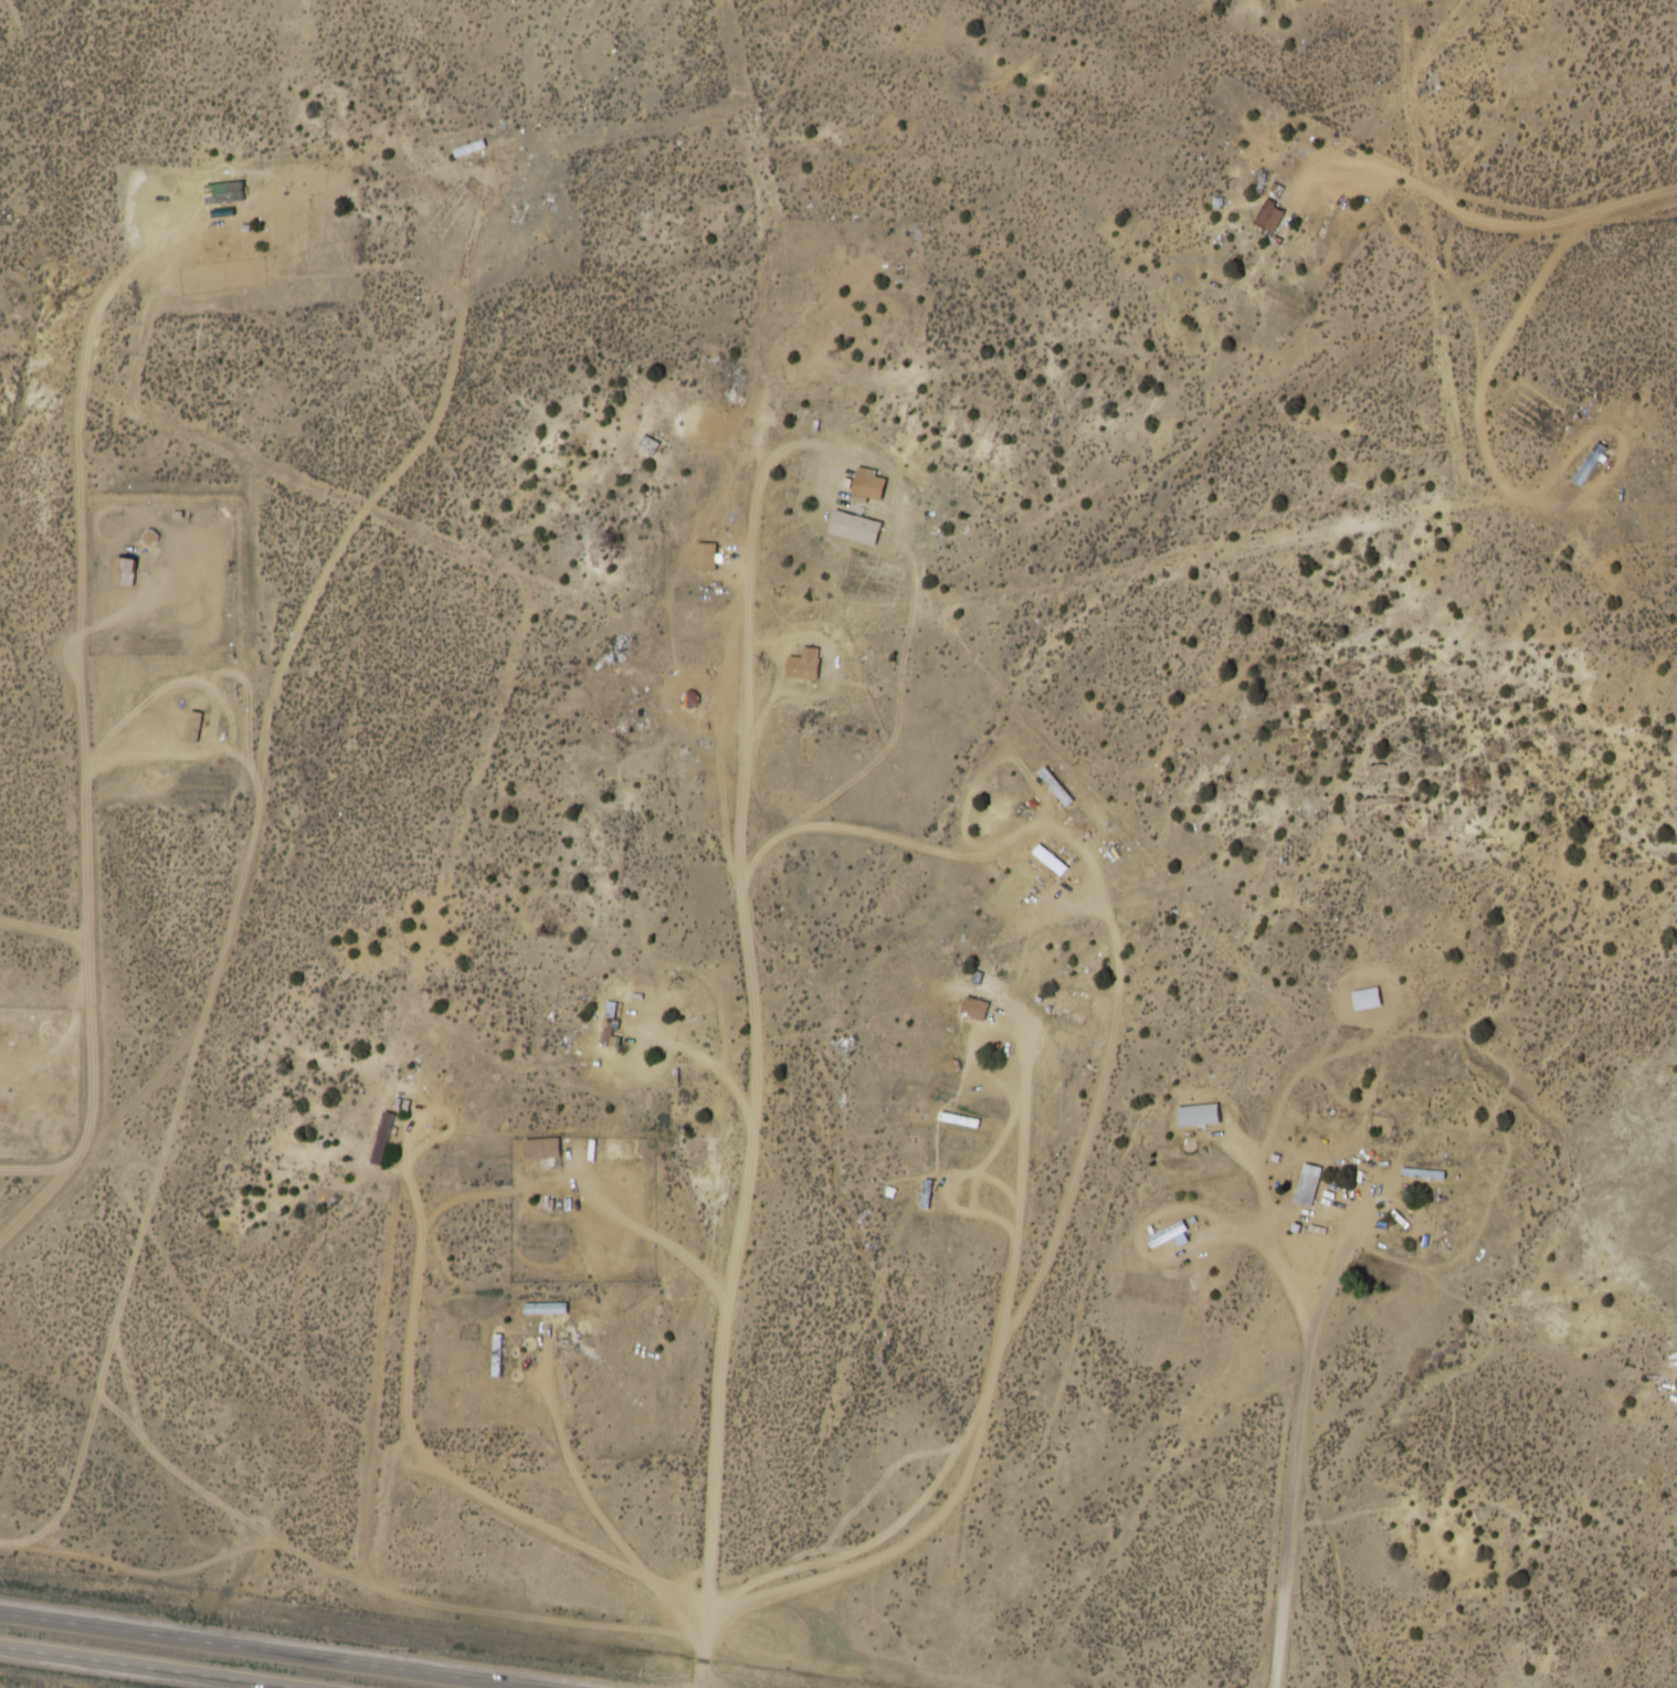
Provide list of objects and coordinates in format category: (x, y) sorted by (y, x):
building: (1268, 219)
road: (1553, 281)
road: (1444, 360)
building: (1588, 465)
building: (867, 486)
building: (122, 572)
building: (803, 665)
road: (742, 896)
building: (972, 1009)
building: (607, 1027)
building: (1196, 1114)
building: (540, 1148)
building: (1308, 1183)
road: (723, 1400)
road: (1676, 1418)
road: (1298, 1446)
road: (640, 1558)
road: (1653, 1603)
road: (265, 1649)
road: (149, 1667)
road: (1658, 1667)

